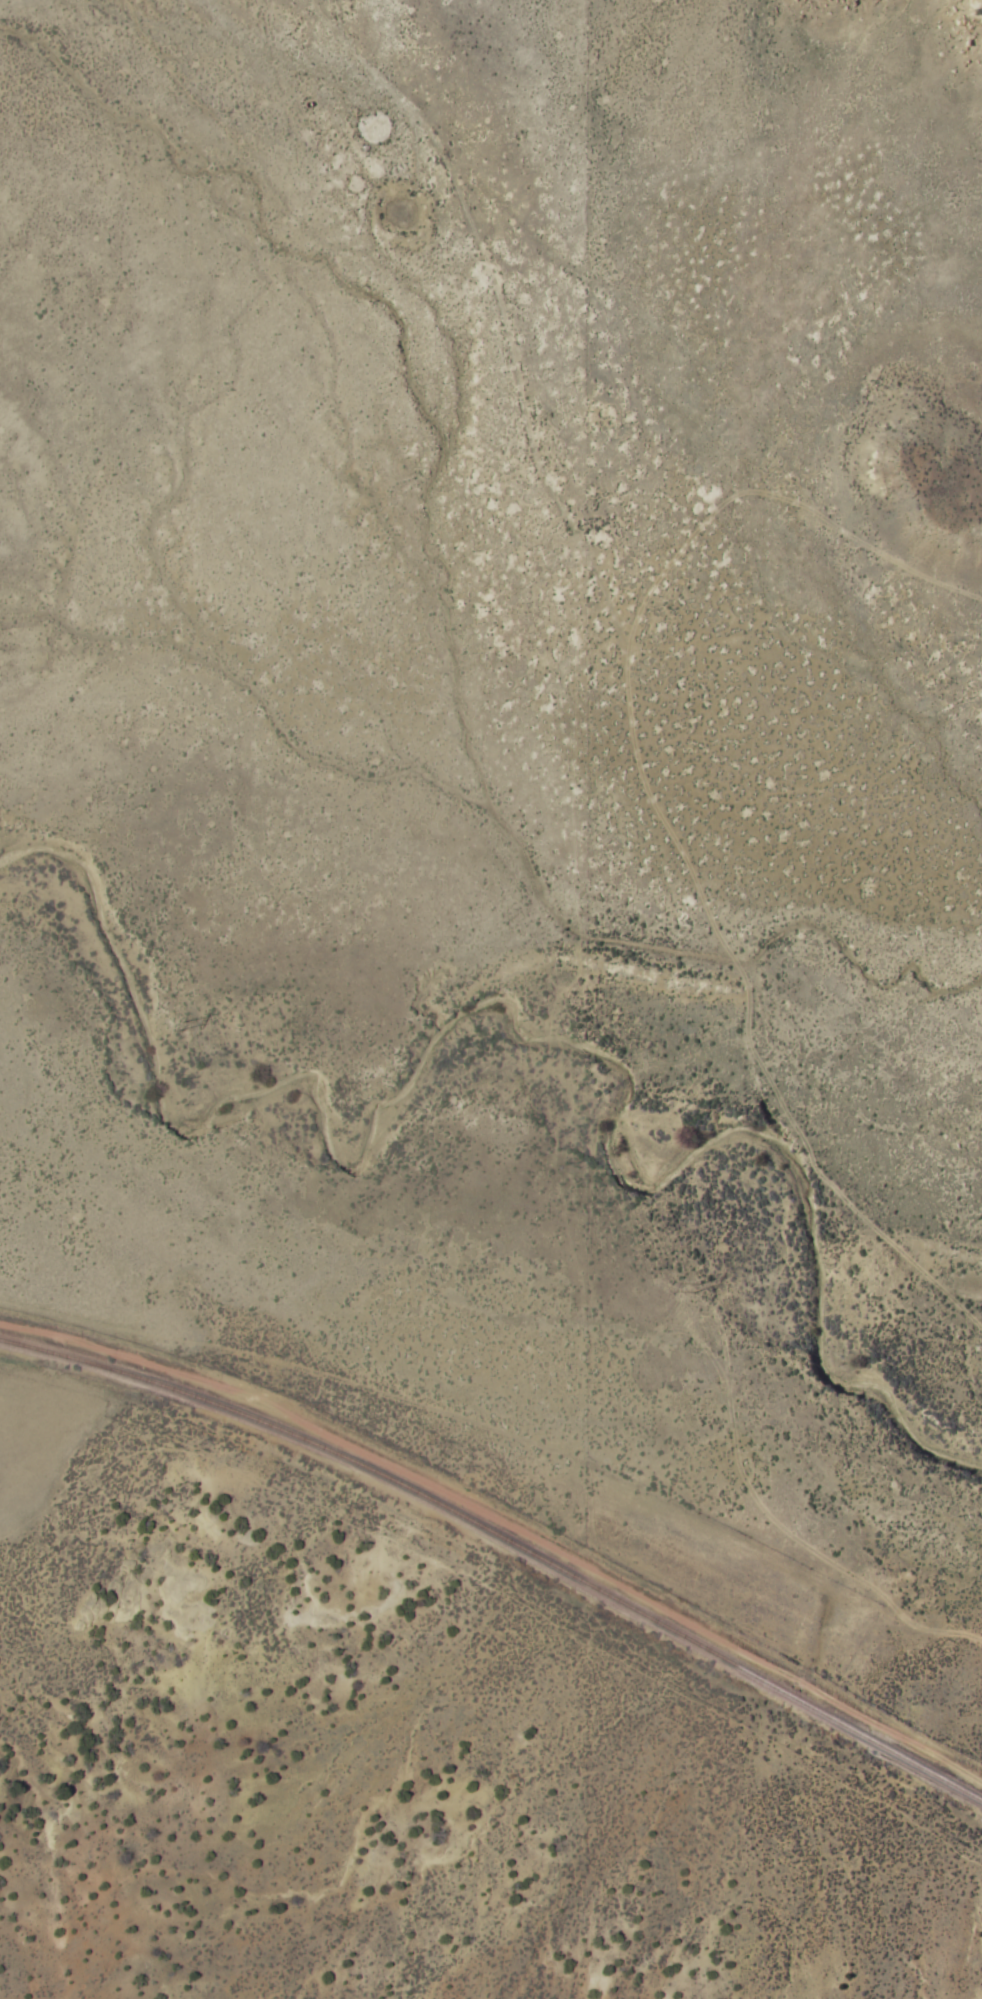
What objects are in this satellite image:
road: (294, 26)
road: (585, 242)
road: (899, 564)
road: (503, 1434)
railway: (504, 1541)

